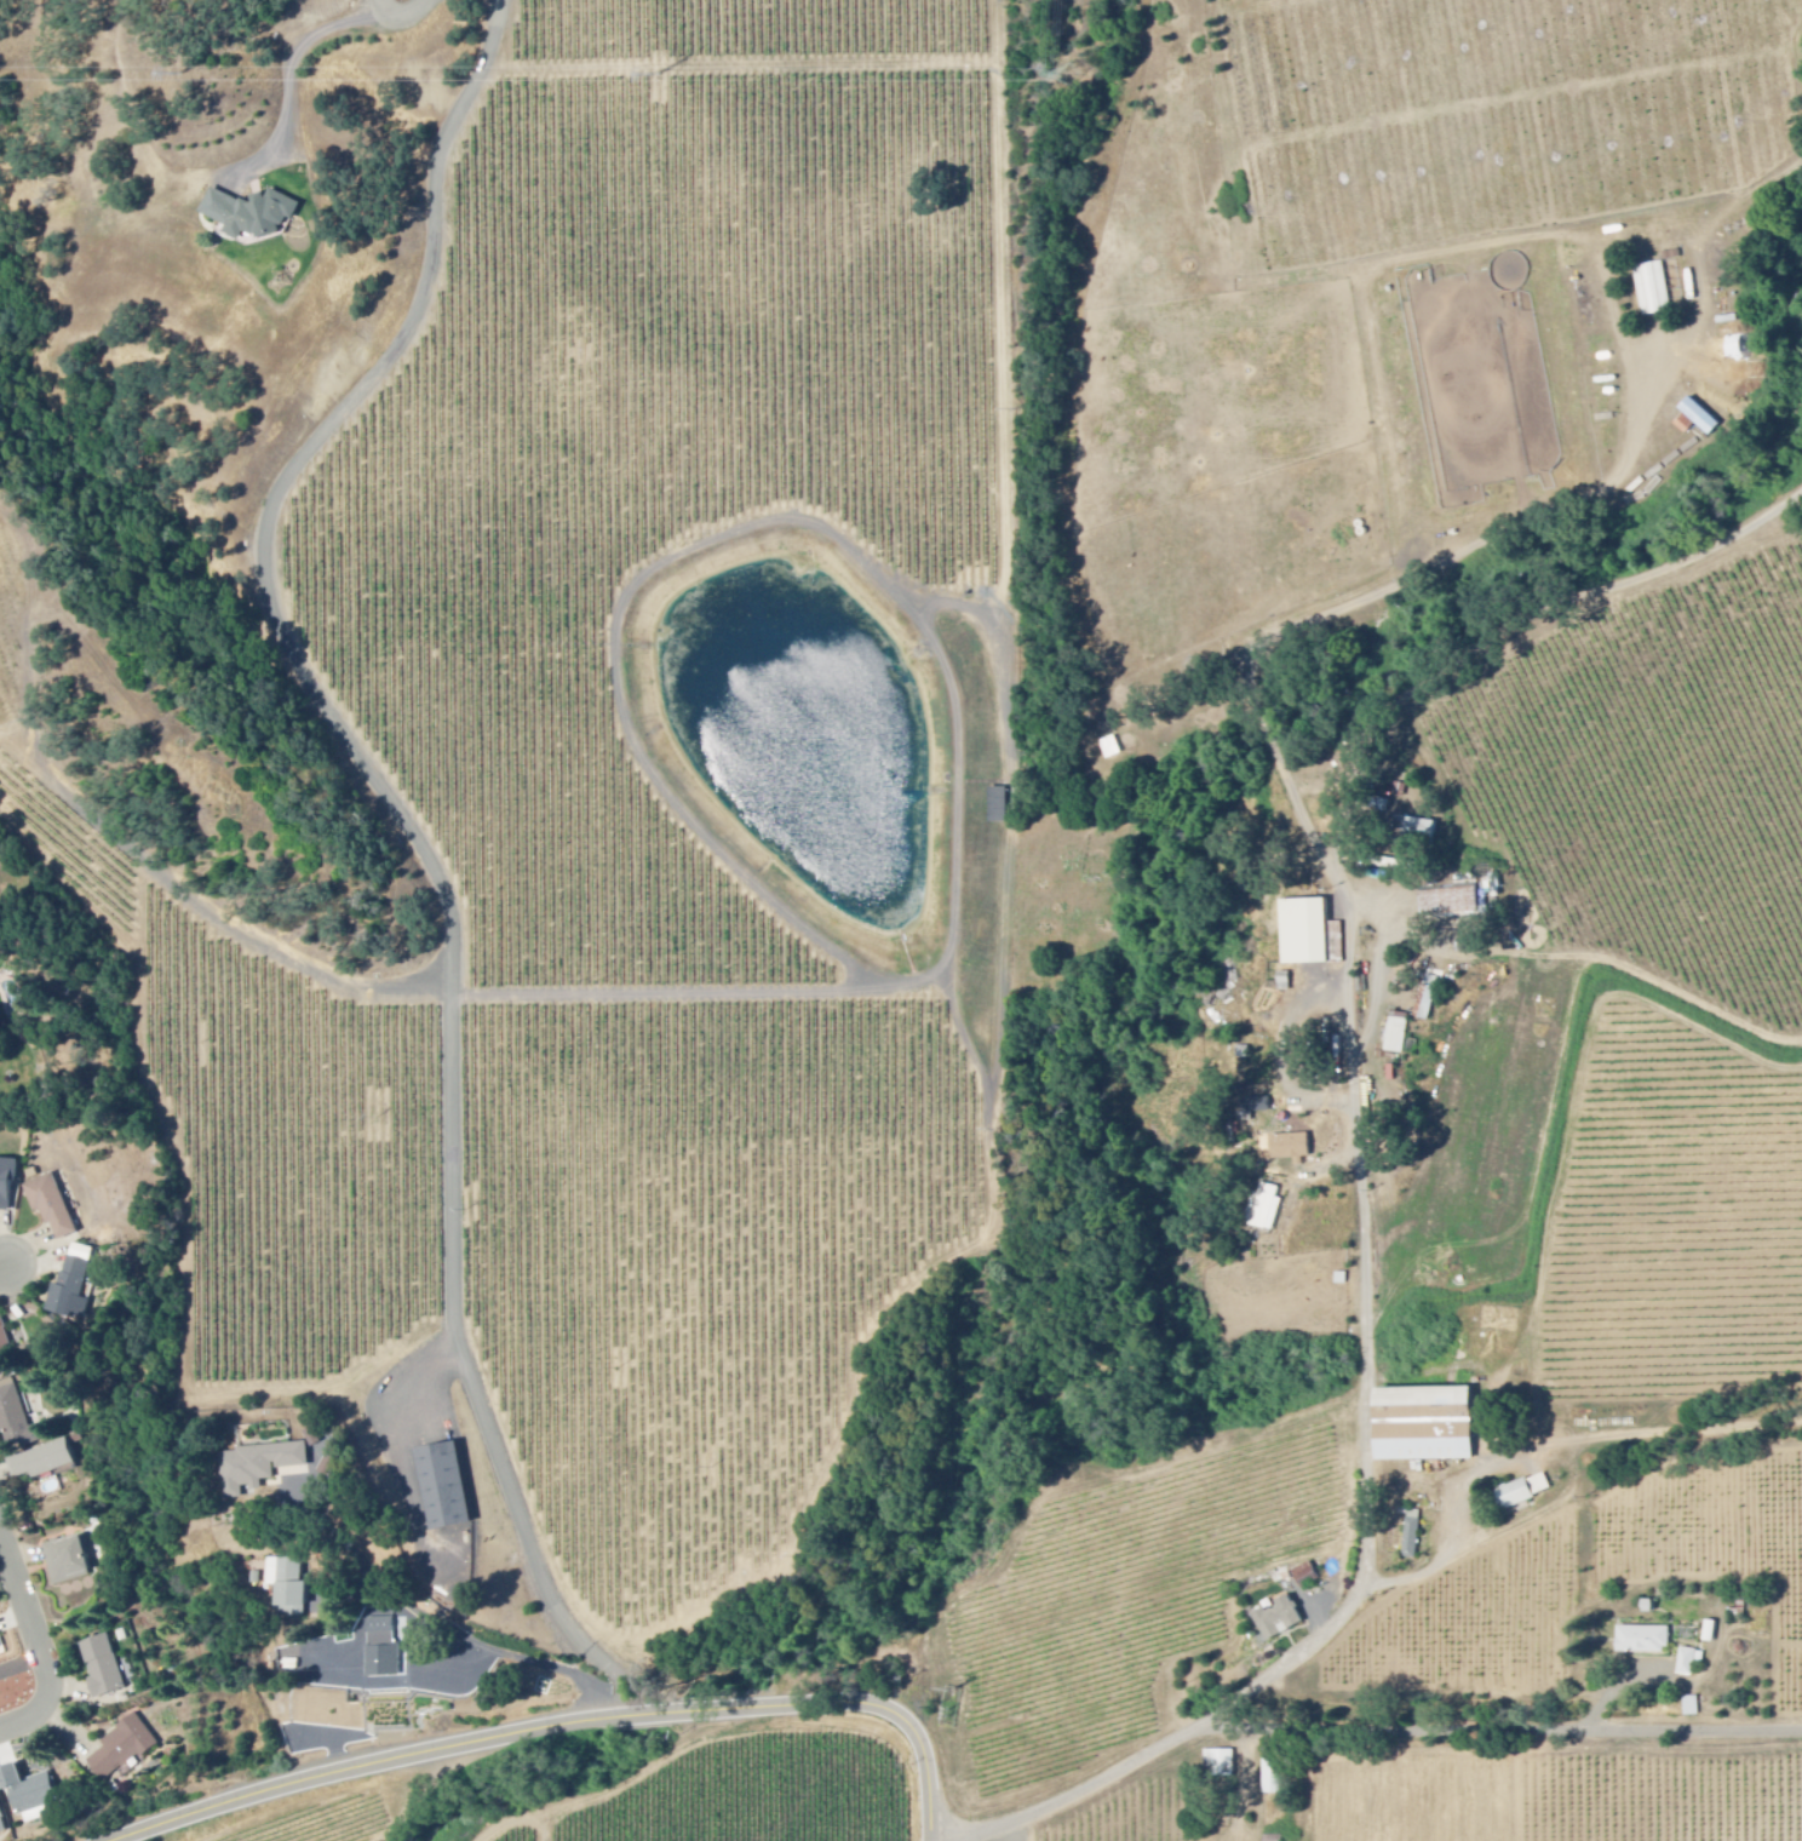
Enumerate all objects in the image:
road: (398, 18)
road: (293, 82)
building: (249, 213)
building: (1652, 289)
building: (1695, 419)
building: (1111, 749)
building: (997, 805)
building: (1417, 830)
road: (411, 833)
building: (1448, 904)
building: (1303, 934)
road: (1503, 947)
building: (1429, 1000)
building: (1396, 1034)
building: (1290, 1149)
building: (8, 1183)
building: (56, 1206)
building: (1266, 1209)
road: (4, 1269)
building: (76, 1285)
building: (5, 1344)
building: (21, 1422)
building: (1422, 1424)
building: (47, 1462)
building: (338, 1464)
building: (263, 1467)
building: (453, 1489)
building: (1522, 1491)
road: (1576, 1507)
building: (1411, 1535)
building: (74, 1560)
building: (1304, 1575)
building: (289, 1583)
building: (1278, 1618)
building: (1709, 1633)
building: (1642, 1640)
road: (41, 1644)
building: (2, 1645)
building: (384, 1645)
building: (1688, 1662)
building: (105, 1668)
road: (1279, 1673)
road: (1675, 1688)
building: (1691, 1707)
road: (575, 1726)
road: (1375, 1732)
building: (128, 1748)
building: (1219, 1762)
building: (1270, 1777)
road: (624, 1779)
building: (4, 1820)

